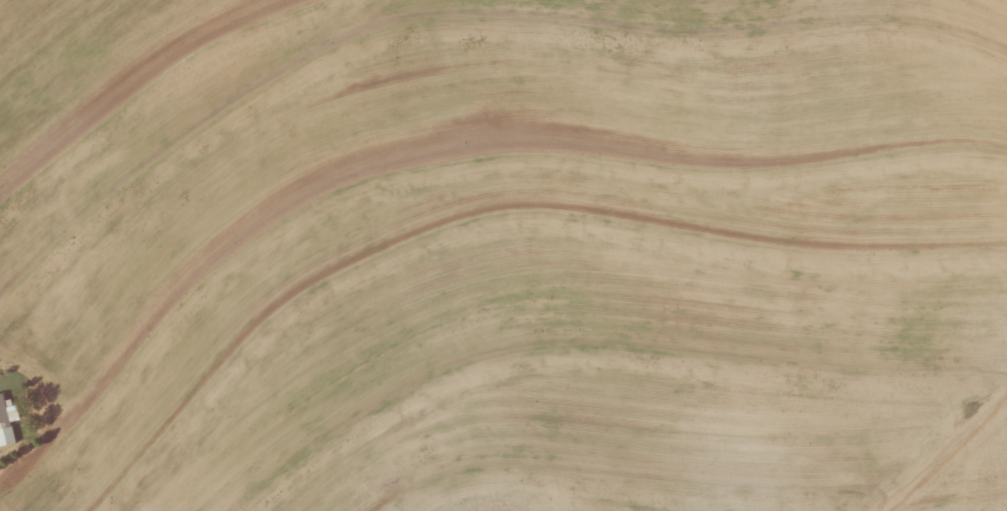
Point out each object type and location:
road: (925, 440)

